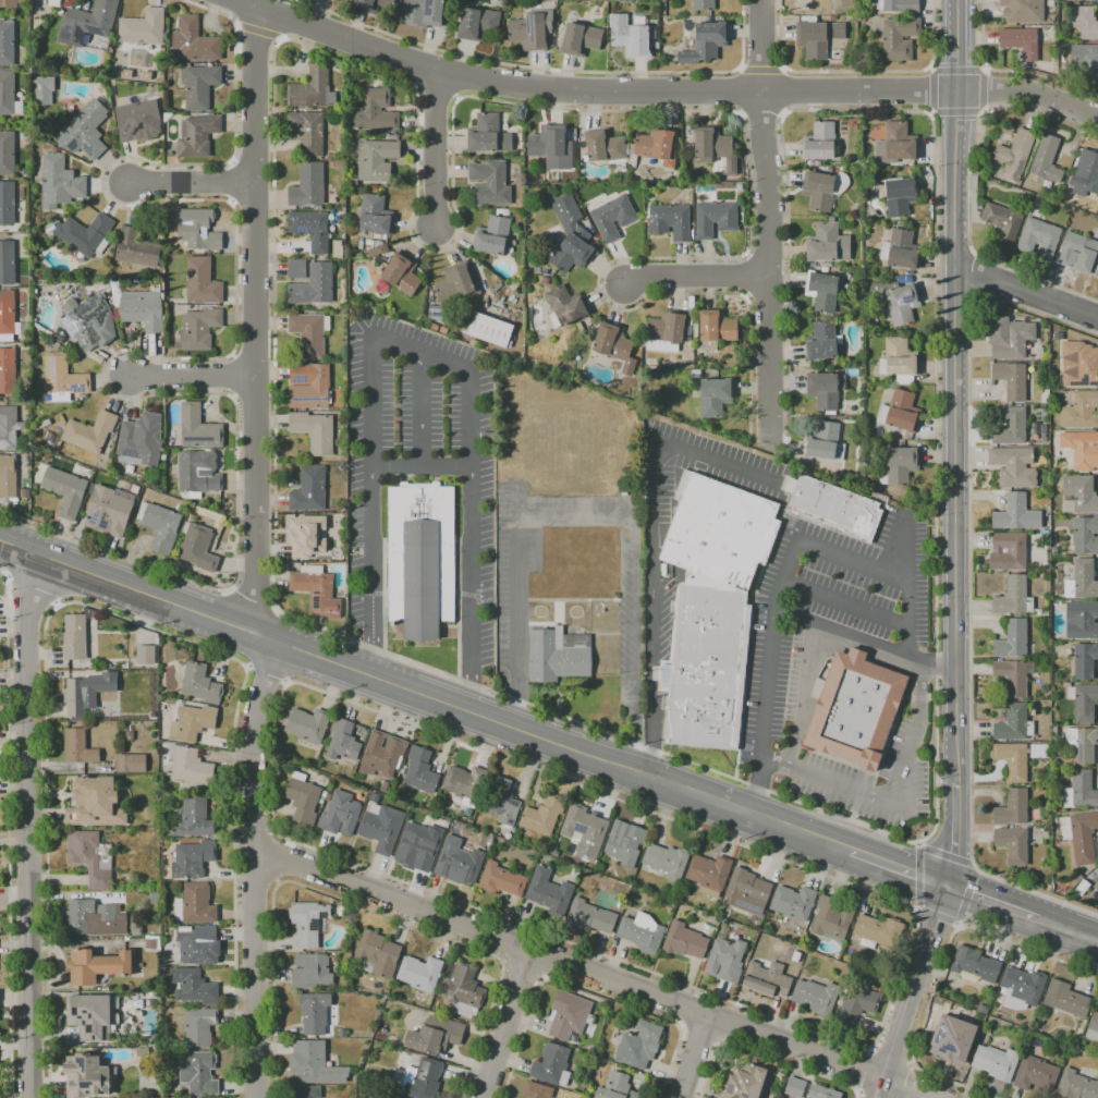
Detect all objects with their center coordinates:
building: (53, 2)
building: (11, 4)
building: (373, 4)
building: (703, 5)
building: (812, 5)
building: (900, 5)
building: (1023, 11)
building: (429, 12)
building: (1083, 22)
building: (86, 24)
building: (480, 26)
building: (144, 29)
building: (530, 34)
building: (630, 36)
building: (817, 38)
building: (898, 38)
building: (579, 39)
building: (705, 42)
building: (1020, 42)
building: (197, 44)
building: (8, 45)
building: (1085, 53)
building: (203, 88)
building: (315, 89)
road: (658, 91)
building: (47, 93)
building: (10, 95)
building: (377, 113)
building: (137, 118)
building: (87, 133)
building: (310, 133)
building: (200, 137)
building: (490, 137)
building: (819, 142)
building: (899, 142)
building: (547, 144)
building: (656, 146)
building: (603, 147)
building: (712, 147)
building: (1014, 154)
road: (441, 155)
building: (9, 156)
building: (1046, 159)
building: (377, 160)
building: (1087, 178)
building: (62, 182)
building: (493, 183)
road: (192, 186)
building: (310, 187)
building: (817, 191)
building: (898, 195)
building: (9, 205)
building: (378, 217)
building: (612, 217)
building: (715, 219)
building: (669, 221)
building: (1002, 222)
road: (767, 225)
building: (314, 230)
building: (200, 232)
building: (88, 236)
building: (570, 236)
building: (495, 237)
building: (1038, 239)
building: (827, 243)
building: (902, 249)
building: (139, 251)
building: (1076, 252)
building: (343, 253)
building: (378, 254)
building: (8, 265)
building: (298, 270)
building: (542, 271)
building: (1096, 272)
building: (404, 277)
building: (545, 281)
road: (694, 281)
building: (205, 283)
building: (460, 285)
building: (316, 288)
building: (822, 292)
road: (1025, 293)
building: (65, 295)
building: (896, 301)
building: (563, 306)
building: (145, 312)
building: (9, 316)
building: (88, 320)
road: (258, 324)
building: (715, 329)
building: (202, 331)
building: (667, 331)
building: (492, 332)
building: (312, 335)
building: (1057, 335)
building: (820, 341)
building: (1015, 341)
building: (614, 345)
road: (423, 351)
building: (898, 361)
building: (1078, 365)
building: (9, 373)
road: (193, 377)
building: (65, 380)
building: (1010, 380)
building: (312, 387)
building: (823, 390)
building: (713, 398)
building: (1081, 410)
building: (902, 411)
building: (1009, 426)
building: (10, 429)
building: (200, 430)
building: (93, 434)
building: (317, 434)
building: (489, 440)
building: (826, 443)
road: (953, 443)
building: (139, 446)
building: (1081, 449)
building: (901, 465)
building: (1012, 466)
building: (9, 478)
building: (199, 478)
building: (312, 491)
building: (68, 492)
building: (1081, 493)
building: (833, 509)
building: (111, 513)
road: (596, 514)
road: (779, 514)
building: (1015, 514)
building: (162, 527)
building: (315, 535)
building: (1085, 535)
building: (199, 549)
road: (113, 550)
building: (1006, 551)
road: (907, 552)
road: (648, 557)
building: (417, 560)
building: (1082, 579)
building: (319, 593)
building: (1013, 597)
road: (845, 603)
road: (251, 605)
building: (711, 607)
road: (774, 618)
road: (123, 619)
road: (907, 620)
building: (1081, 620)
building: (74, 637)
building: (1012, 640)
road: (863, 642)
building: (145, 655)
building: (557, 656)
building: (1085, 660)
road: (325, 663)
road: (266, 670)
building: (1013, 676)
building: (200, 684)
parking lot: (781, 685)
building: (86, 694)
road: (807, 696)
building: (1083, 701)
building: (854, 709)
building: (192, 722)
building: (1013, 723)
building: (307, 725)
road: (599, 730)
building: (343, 741)
building: (1082, 744)
building: (77, 747)
building: (1038, 752)
building: (382, 755)
building: (1012, 760)
building: (131, 762)
building: (191, 767)
building: (420, 770)
building: (465, 782)
building: (1079, 791)
building: (303, 798)
road: (890, 798)
building: (501, 801)
building: (95, 803)
building: (1013, 808)
road: (271, 813)
building: (341, 814)
building: (544, 816)
building: (194, 818)
road: (27, 827)
building: (381, 828)
road: (253, 829)
building: (584, 830)
road: (9, 832)
road: (801, 832)
building: (1079, 835)
building: (624, 843)
building: (1013, 844)
building: (418, 847)
road: (949, 853)
building: (91, 857)
building: (193, 858)
road: (282, 858)
building: (667, 861)
building: (459, 863)
road: (254, 869)
building: (709, 874)
building: (1097, 877)
building: (501, 880)
building: (1096, 884)
traffic signals: (950, 887)
building: (1081, 888)
road: (253, 889)
building: (549, 891)
road: (1034, 891)
building: (747, 892)
building: (155, 899)
road: (992, 902)
building: (793, 903)
building: (195, 904)
road: (354, 904)
building: (590, 916)
building: (95, 918)
building: (832, 918)
road: (936, 918)
building: (308, 923)
building: (136, 929)
road: (1066, 929)
building: (879, 930)
building: (642, 932)
building: (685, 941)
building: (152, 942)
building: (198, 945)
building: (378, 954)
building: (795, 956)
building: (725, 960)
road: (570, 963)
building: (975, 965)
building: (97, 966)
road: (940, 967)
road: (522, 971)
building: (310, 972)
building: (792, 972)
building: (419, 973)
building: (767, 979)
building: (193, 987)
building: (1022, 988)
road: (587, 990)
building: (465, 991)
road: (912, 991)
building: (816, 997)
building: (1066, 999)
building: (856, 1005)
road: (684, 1006)
building: (981, 1009)
building: (316, 1013)
building: (570, 1015)
building: (91, 1016)
road: (722, 1021)
road: (507, 1023)
building: (198, 1026)
building: (1093, 1027)
building: (435, 1035)
building: (1077, 1035)
road: (698, 1038)
building: (639, 1045)
road: (766, 1053)
road: (694, 1056)
road: (891, 1058)
building: (996, 1062)
building: (314, 1063)
building: (552, 1065)
road: (862, 1071)
building: (198, 1073)
building: (779, 1074)
building: (1035, 1074)
building: (87, 1076)
building: (425, 1079)
road: (906, 1081)
building: (745, 1083)
building: (1076, 1086)
building: (617, 1087)
building: (794, 1087)
road: (911, 1088)
building: (536, 1090)
building: (307, 1091)
building: (822, 1093)
road: (863, 1096)

